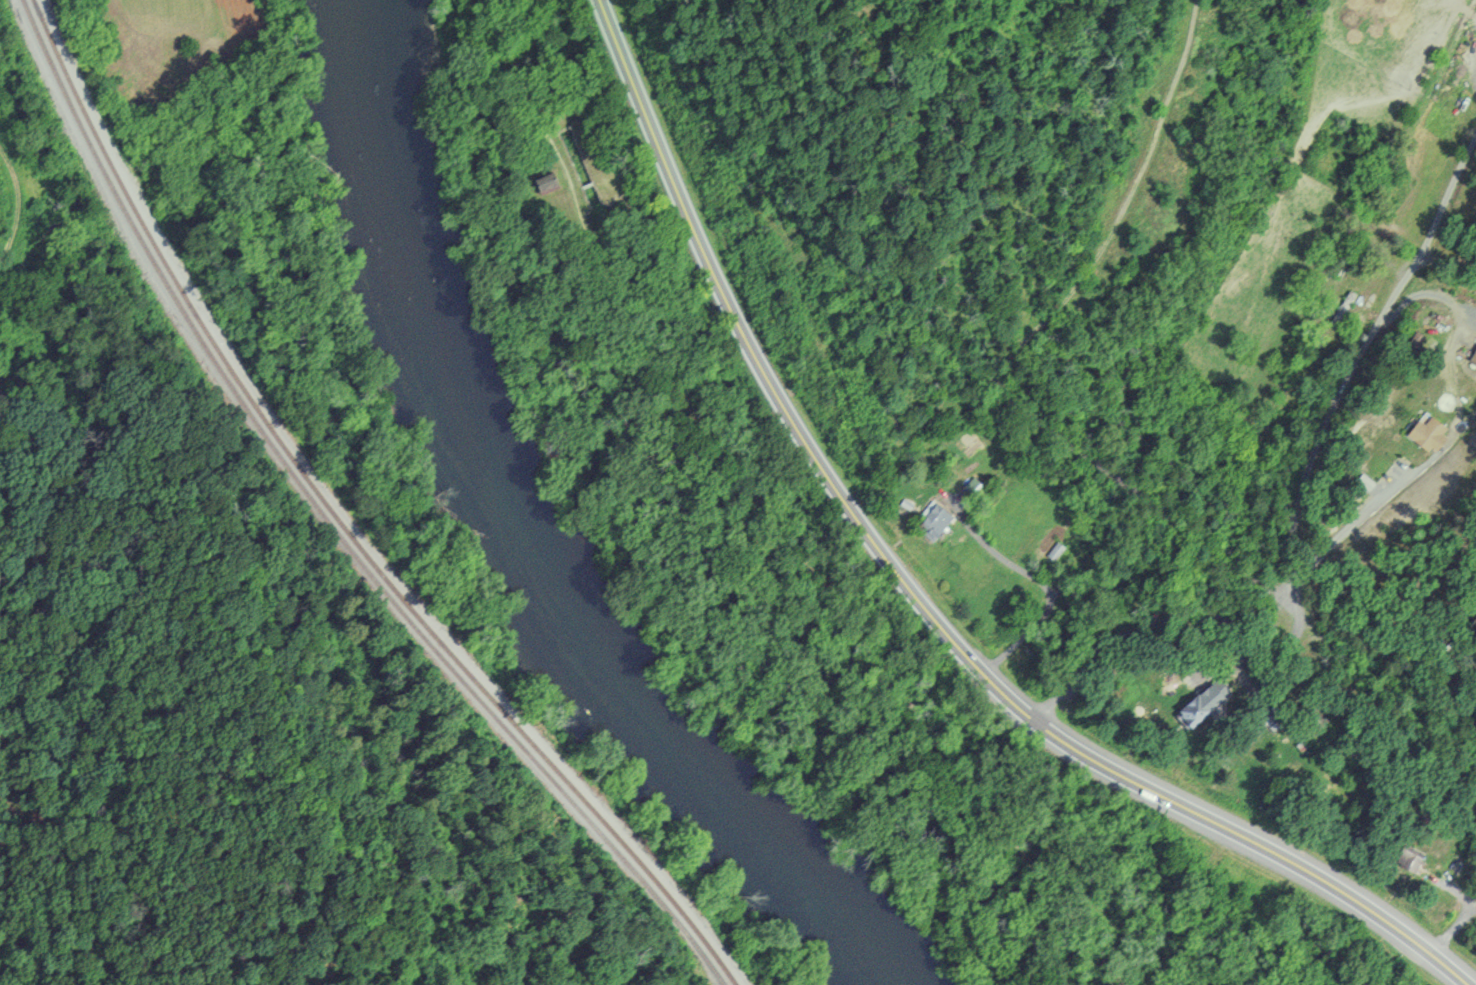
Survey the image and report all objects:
building: (546, 183)
road: (1124, 206)
road: (623, 309)
building: (1473, 358)
building: (1427, 434)
road: (1143, 497)
road: (1368, 511)
railway: (331, 522)
railway: (342, 522)
building: (933, 522)
road: (1293, 524)
river: (532, 546)
road: (1039, 582)
road: (821, 585)
road: (915, 598)
building: (1211, 694)
building: (1192, 711)
building: (1314, 716)
building: (1267, 717)
road: (972, 787)
building: (1408, 857)

